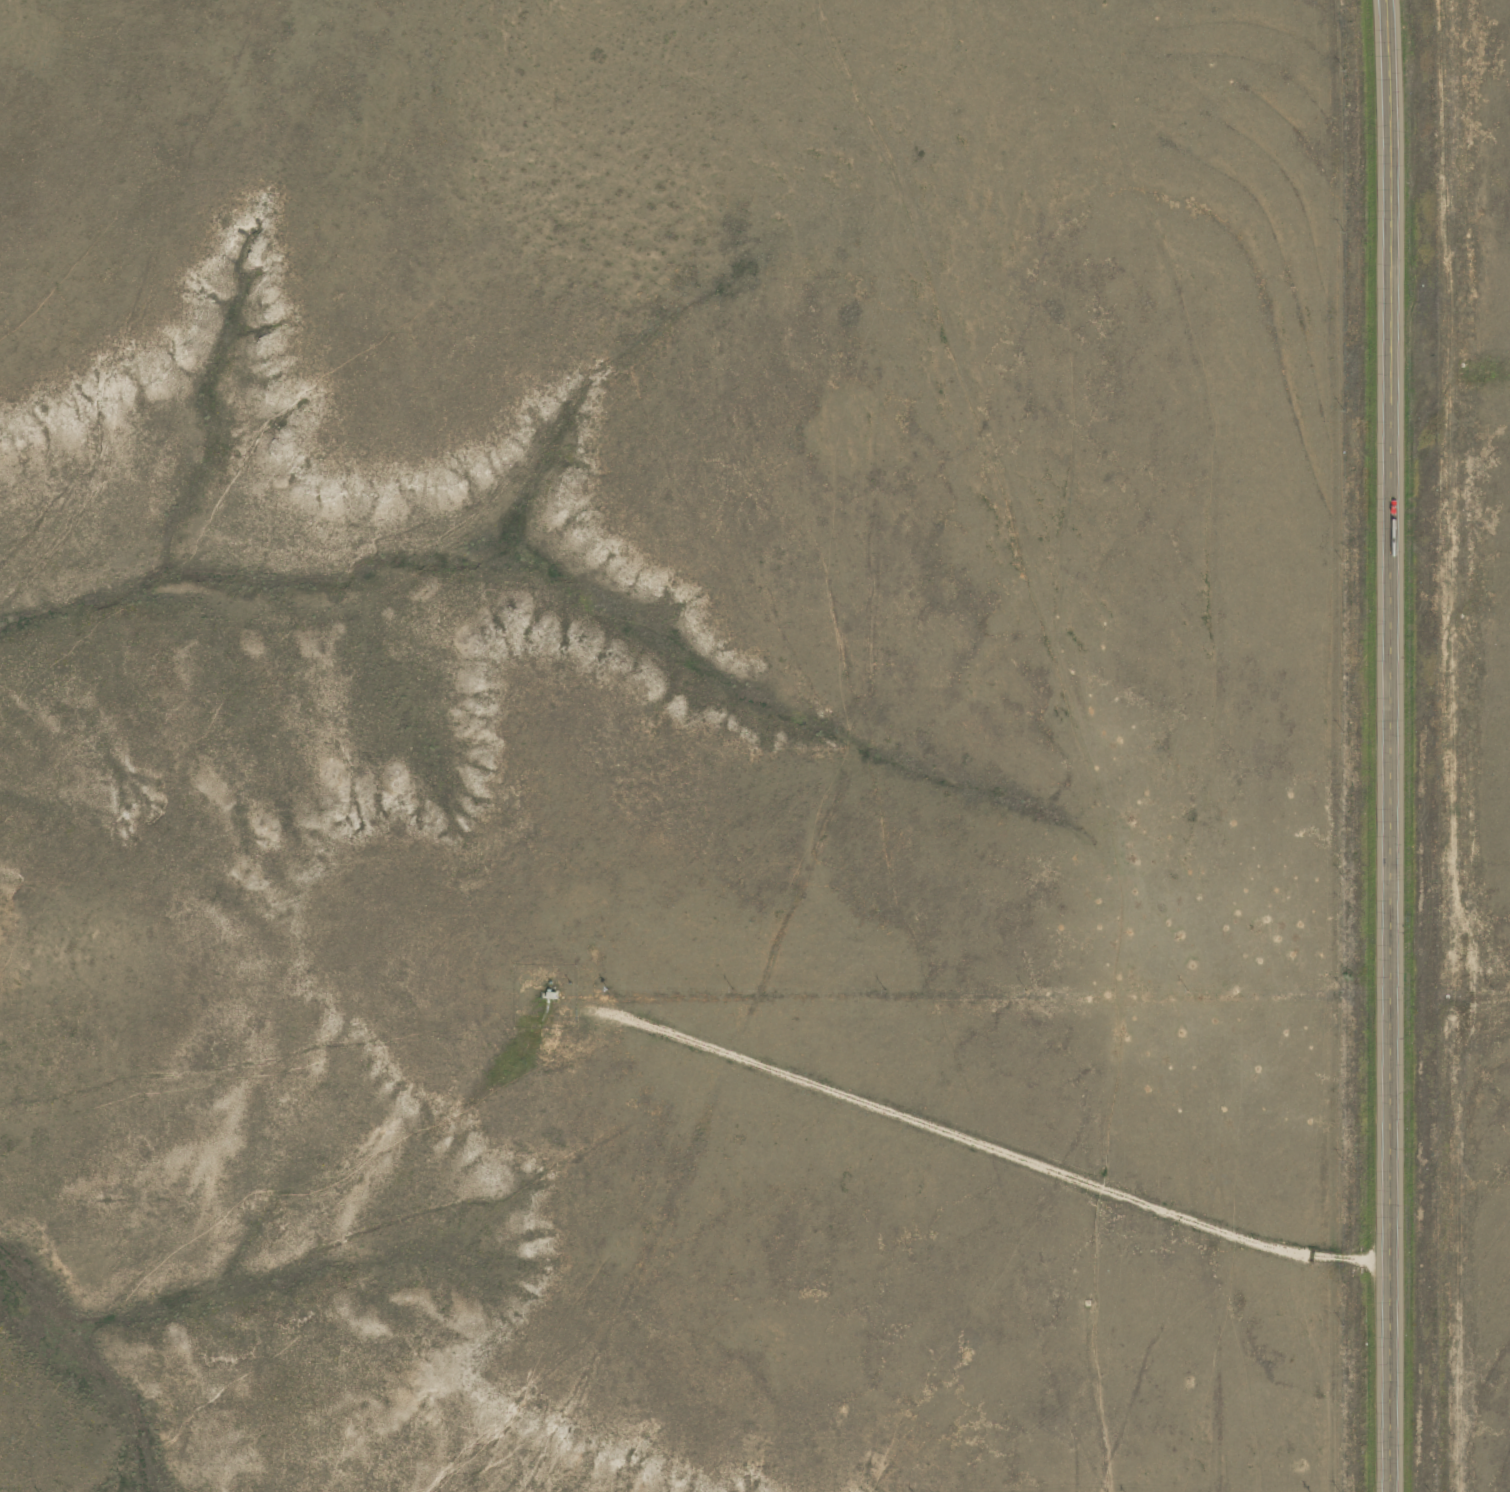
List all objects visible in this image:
road: (1399, 745)

